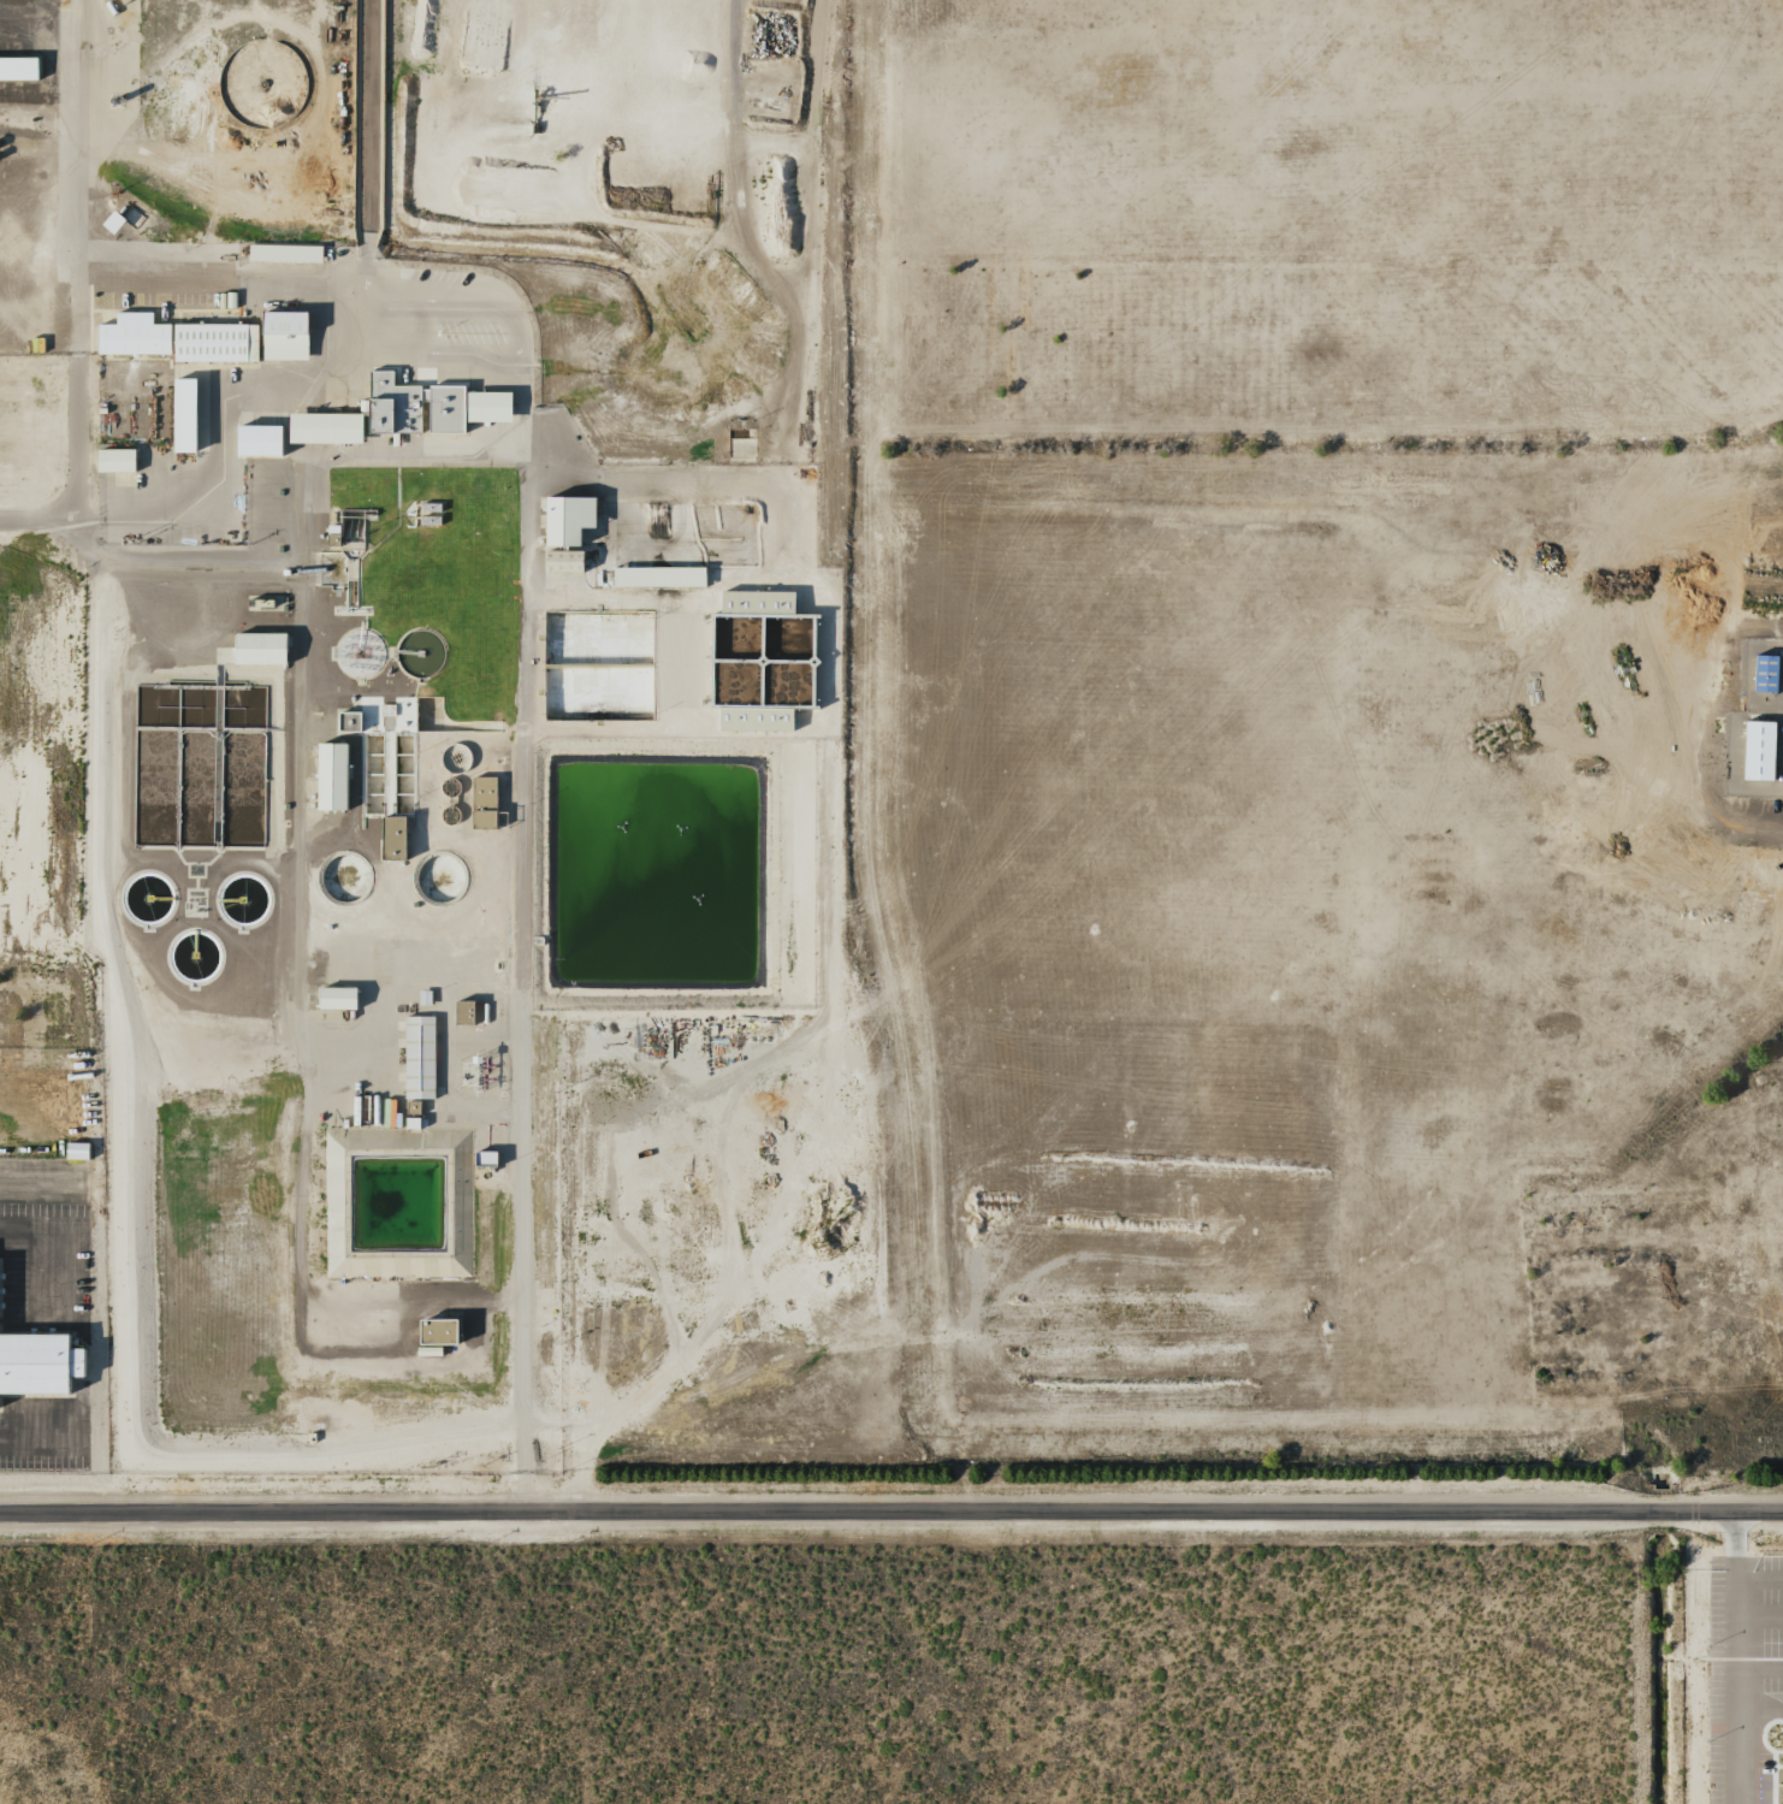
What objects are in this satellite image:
building: (19, 69)
road: (371, 114)
building: (283, 253)
road: (75, 260)
building: (205, 338)
building: (427, 407)
building: (180, 415)
building: (321, 428)
building: (254, 440)
building: (114, 461)
building: (562, 517)
road: (37, 520)
building: (563, 560)
building: (753, 602)
building: (257, 647)
building: (756, 718)
building: (345, 721)
building: (1755, 750)
building: (331, 776)
wastewater plant: (415, 802)
building: (482, 802)
building: (333, 998)
building: (462, 1012)
building: (417, 1057)
building: (76, 1151)
building: (433, 1331)
building: (37, 1362)
road: (892, 1513)

